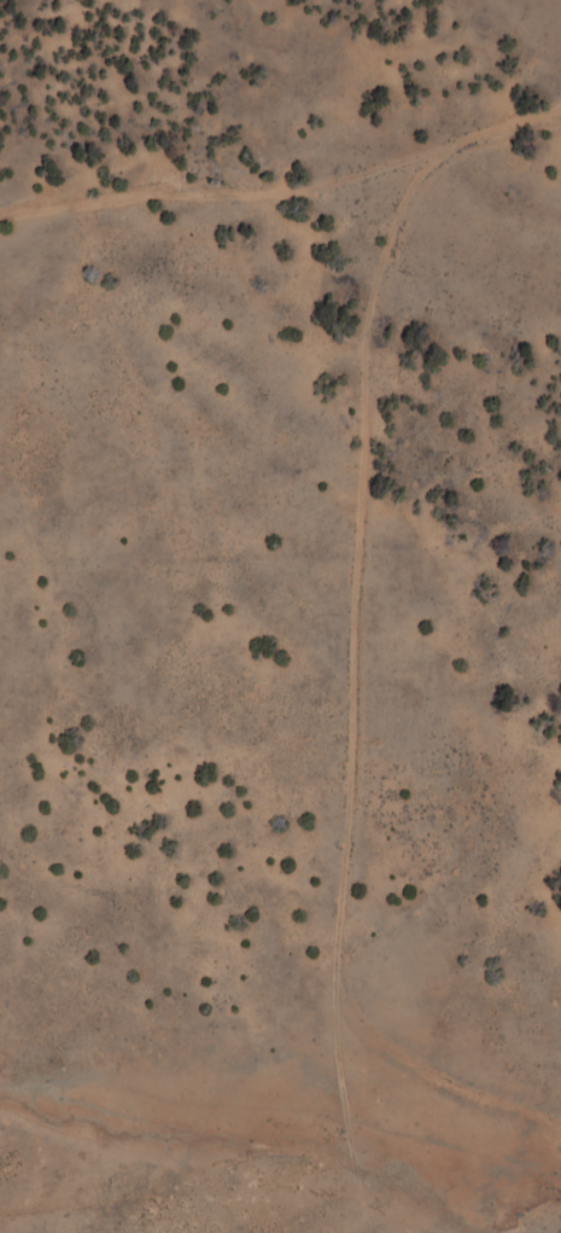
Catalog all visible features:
road: (288, 220)
road: (312, 719)

